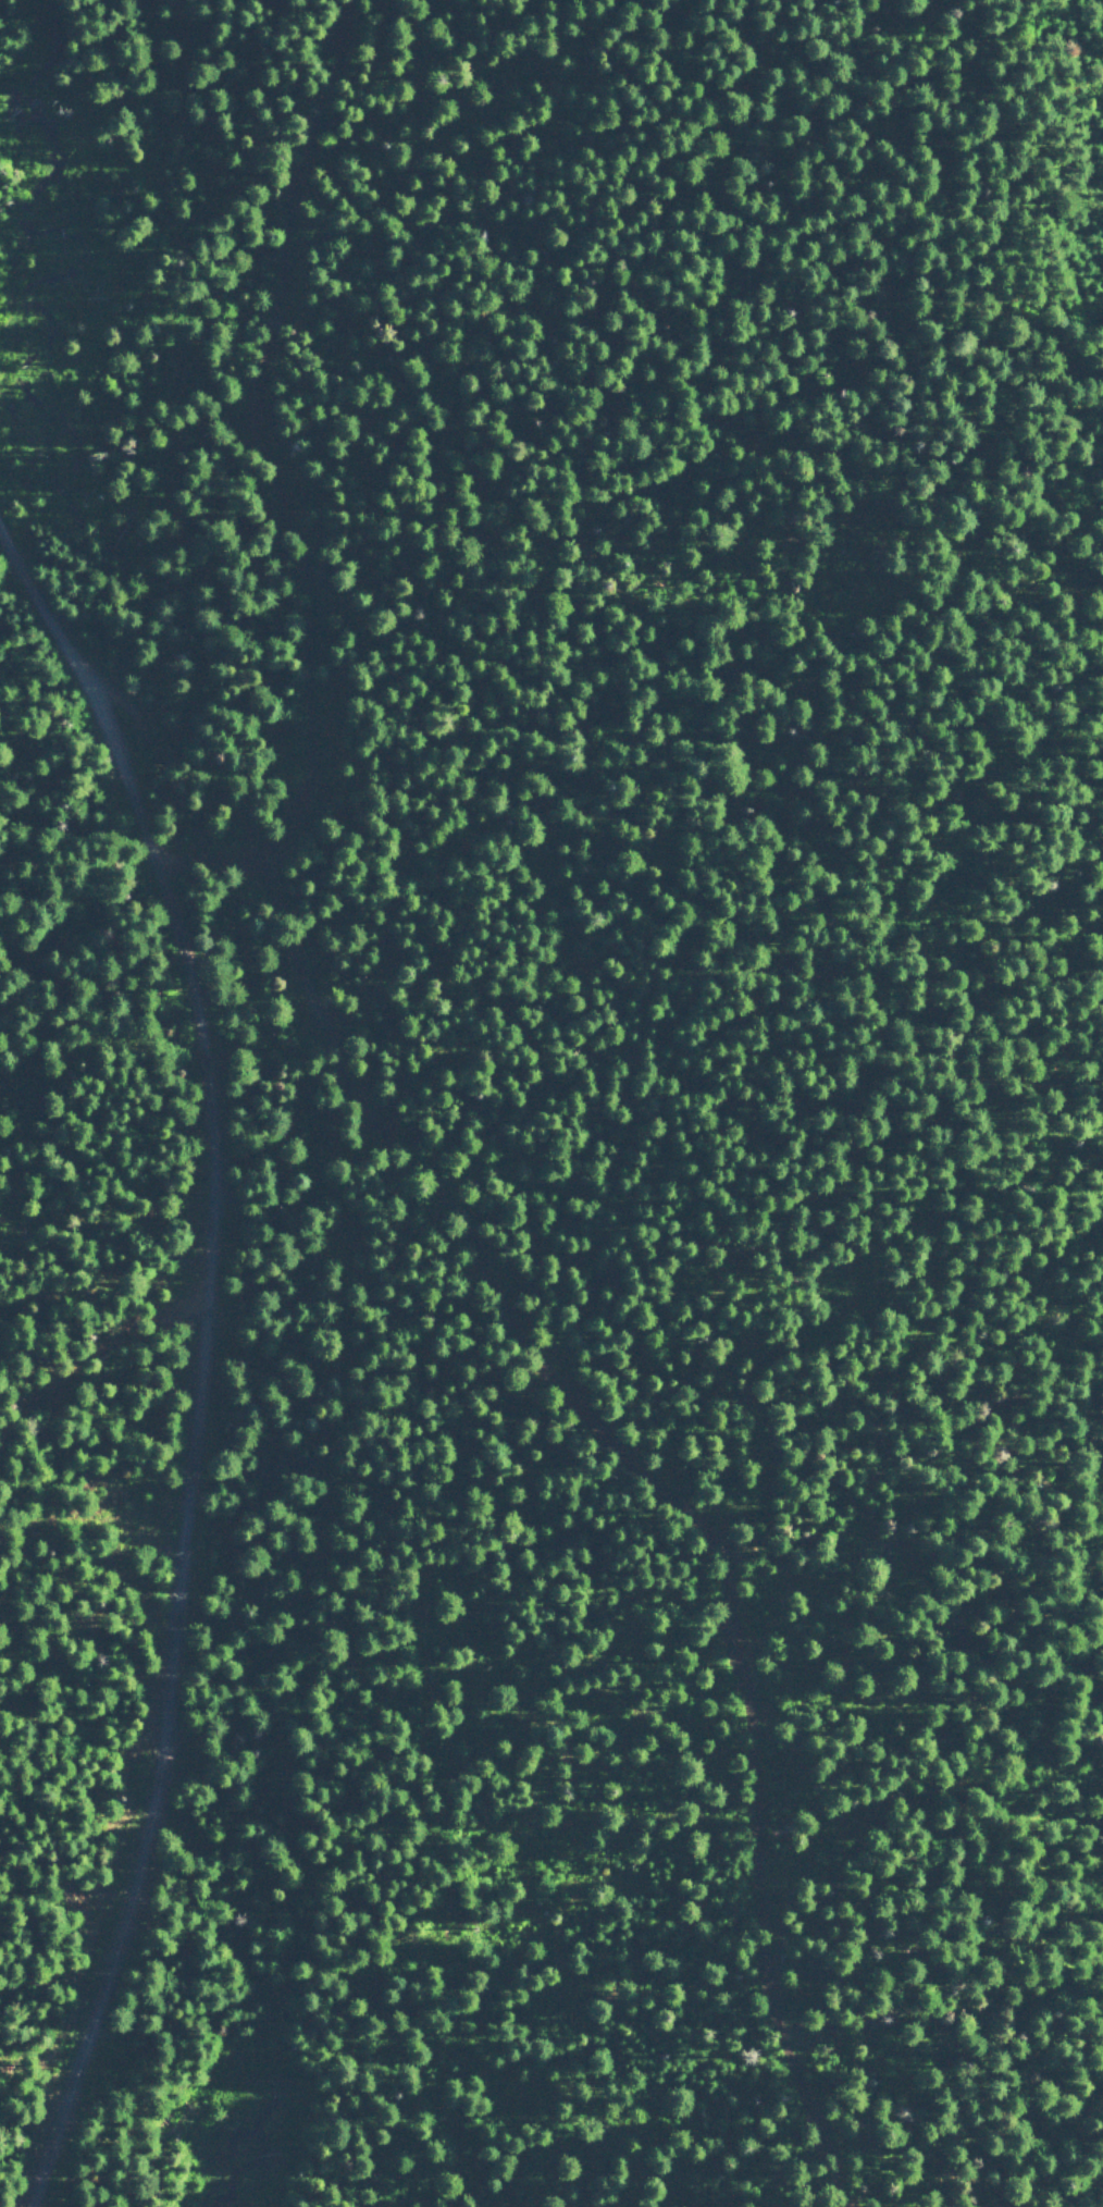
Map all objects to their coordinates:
road: (194, 1366)

